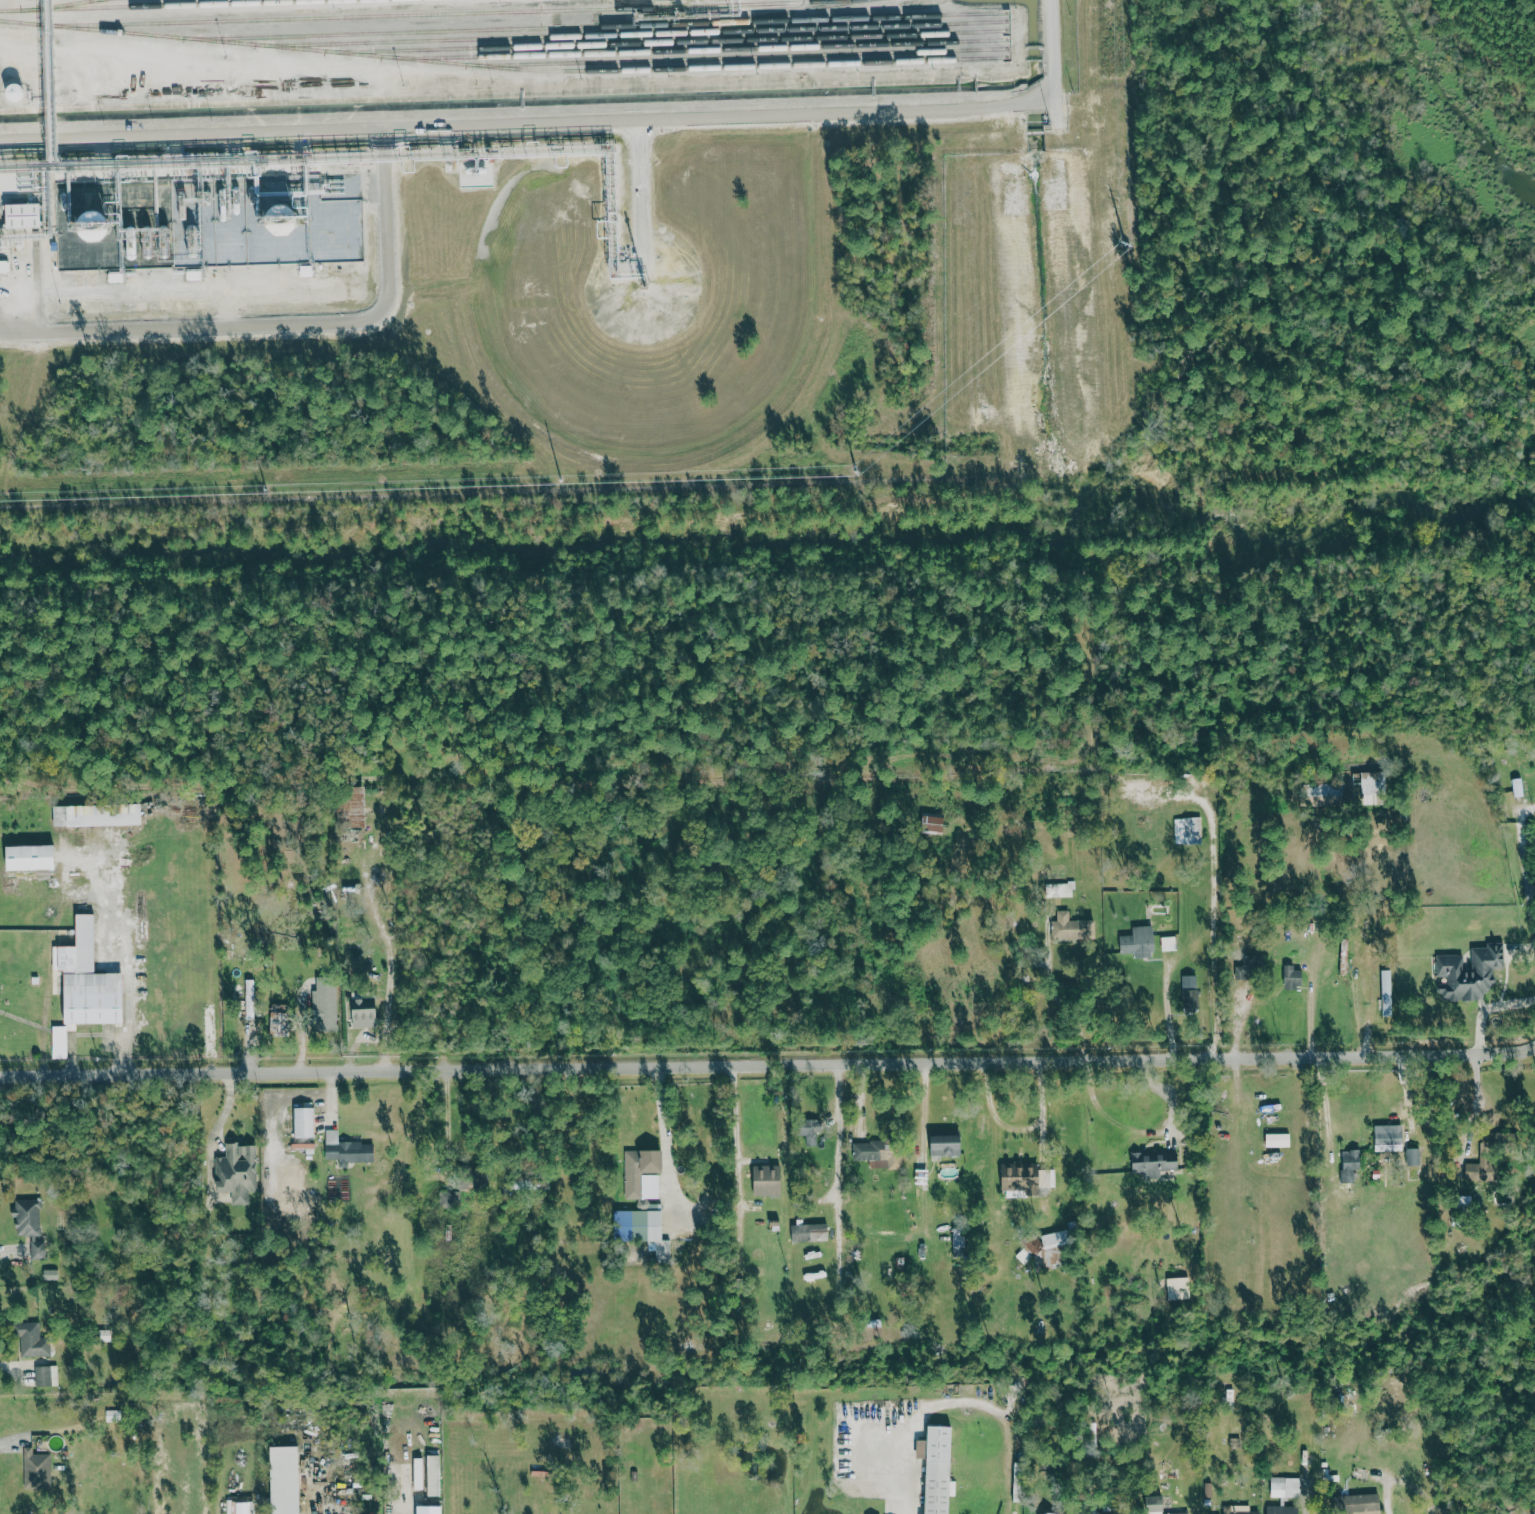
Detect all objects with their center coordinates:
railway: (101, 0)
railway: (65, 5)
railway: (165, 5)
railway: (428, 13)
railway: (788, 13)
railway: (597, 25)
railway: (635, 34)
railway: (669, 41)
railway: (710, 50)
road: (1054, 53)
railway: (743, 57)
railway: (519, 69)
road: (48, 70)
building: (15, 93)
road: (527, 114)
road: (648, 199)
building: (23, 216)
building: (4, 267)
road: (290, 326)
road: (466, 776)
building: (1518, 787)
building: (1373, 788)
building: (352, 806)
building: (97, 814)
building: (932, 823)
building: (1188, 830)
building: (31, 857)
road: (1533, 880)
building: (1059, 889)
road: (1213, 920)
building: (1072, 927)
building: (1139, 942)
building: (1168, 943)
building: (1469, 973)
building: (1293, 977)
building: (85, 986)
road: (1052, 987)
building: (1190, 989)
building: (1387, 993)
building: (250, 999)
building: (325, 1004)
road: (1366, 1010)
road: (1170, 1011)
building: (365, 1013)
building: (279, 1020)
road: (768, 1064)
road: (1167, 1094)
road: (1325, 1109)
road: (736, 1111)
building: (304, 1122)
road: (1018, 1128)
building: (809, 1131)
building: (1389, 1137)
building: (1278, 1139)
road: (667, 1142)
building: (946, 1145)
building: (347, 1149)
building: (879, 1153)
building: (1413, 1156)
building: (1156, 1164)
building: (1350, 1164)
building: (237, 1173)
building: (1027, 1177)
building: (480, 1178)
building: (767, 1180)
building: (449, 1199)
building: (643, 1202)
building: (31, 1226)
building: (809, 1231)
building: (958, 1242)
building: (1051, 1249)
building: (1023, 1256)
building: (1178, 1288)
building: (876, 1329)
building: (31, 1340)
building: (46, 1376)
building: (938, 1469)
building: (36, 1470)
building: (416, 1474)
building: (285, 1480)
road: (905, 1483)
building: (1285, 1487)
road: (1387, 1494)
building: (1356, 1503)
building: (1156, 1504)
building: (244, 1508)
building: (1238, 1510)
building: (1283, 1510)
building: (1056, 1513)
building: (1112, 1513)
building: (1178, 1513)

